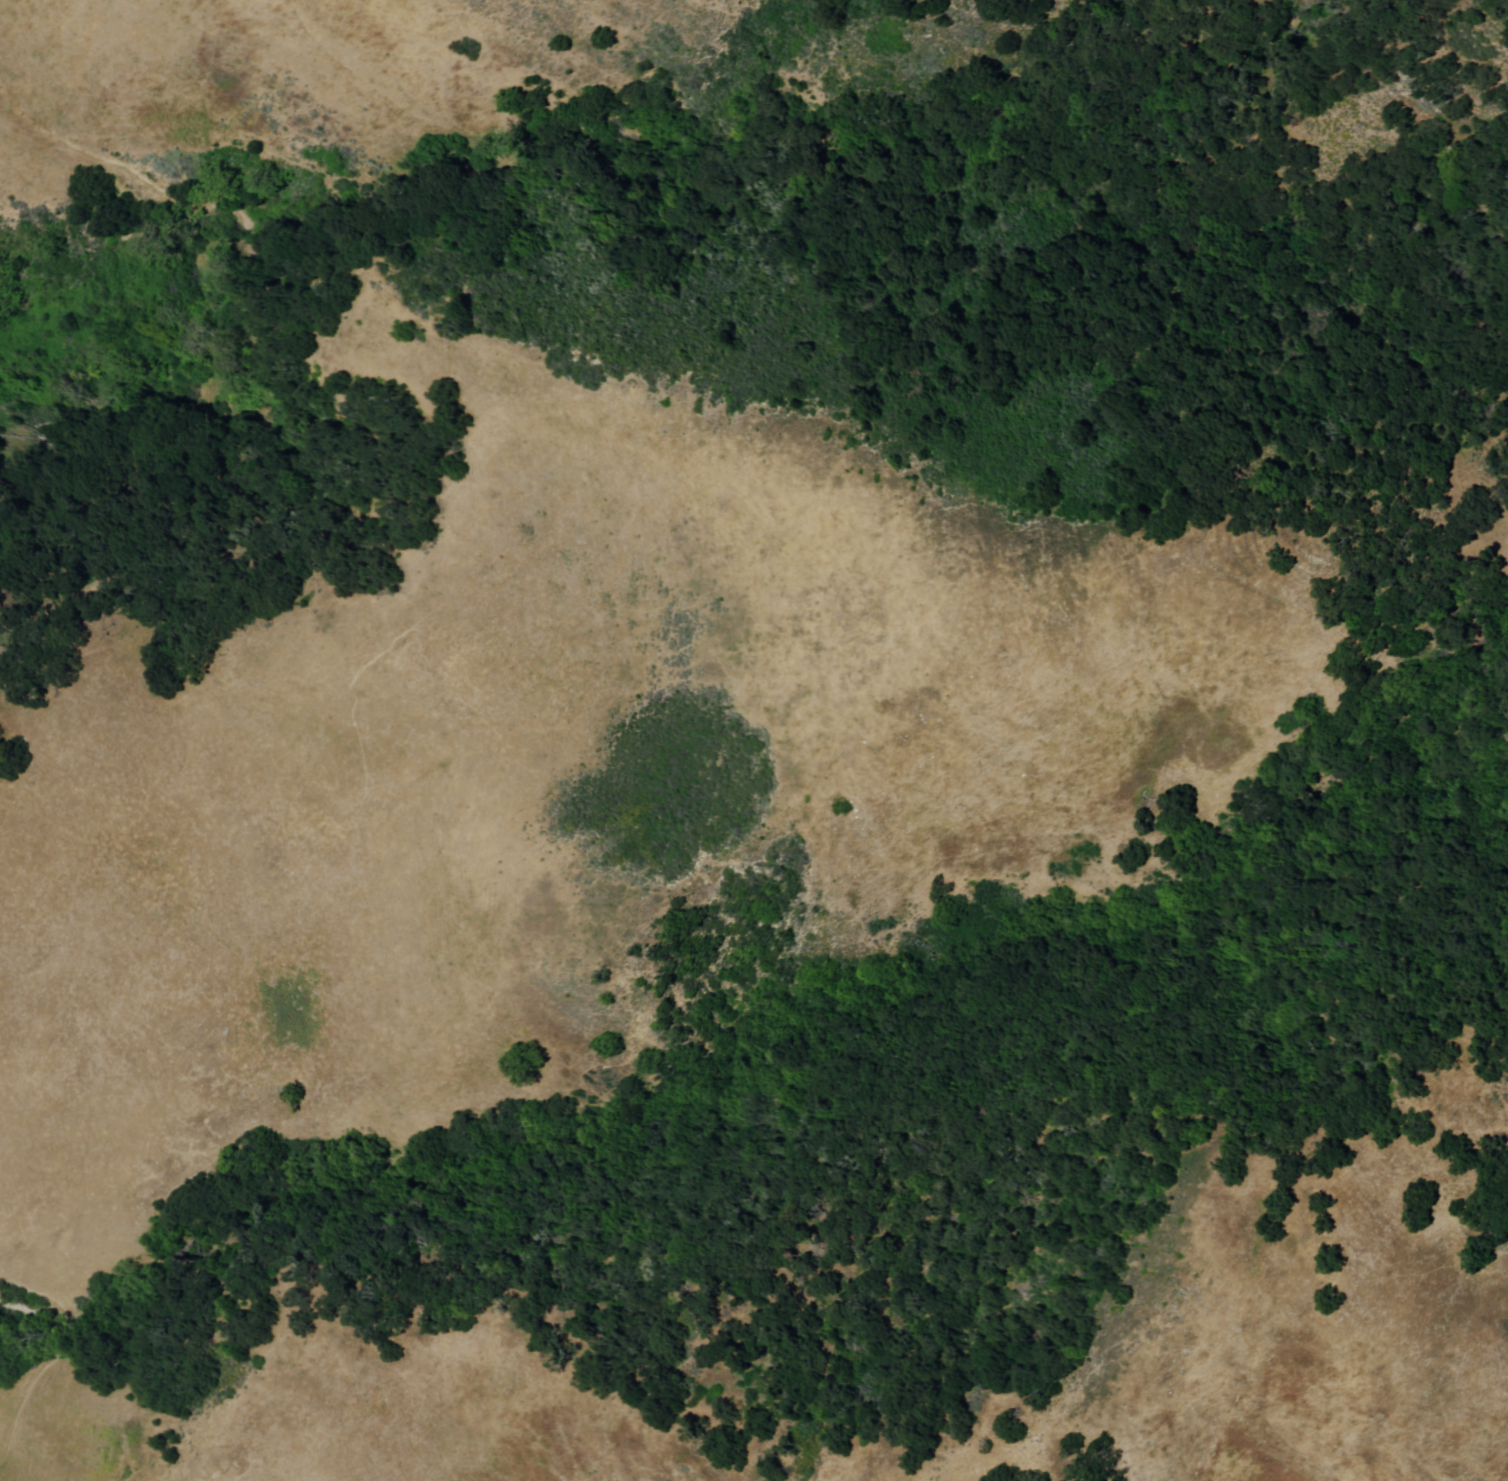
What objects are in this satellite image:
road: (80, 148)

